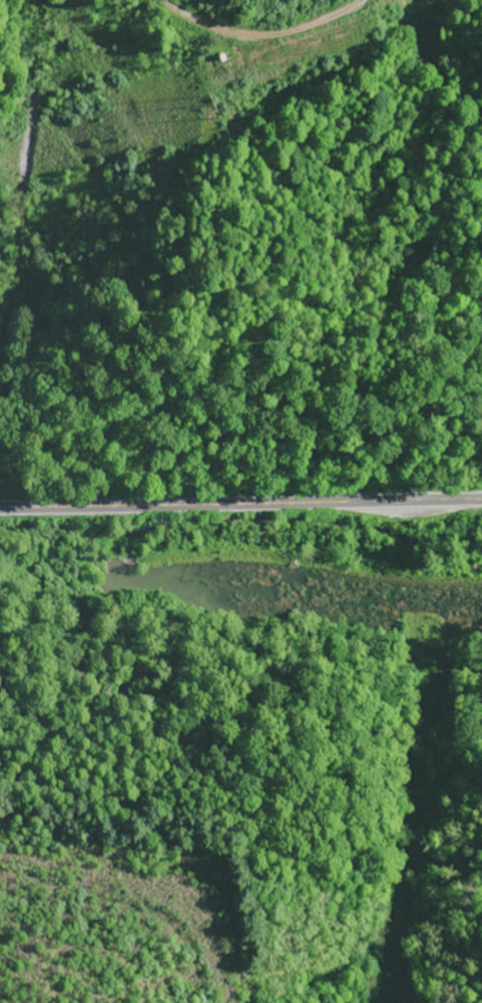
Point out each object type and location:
road: (241, 501)

